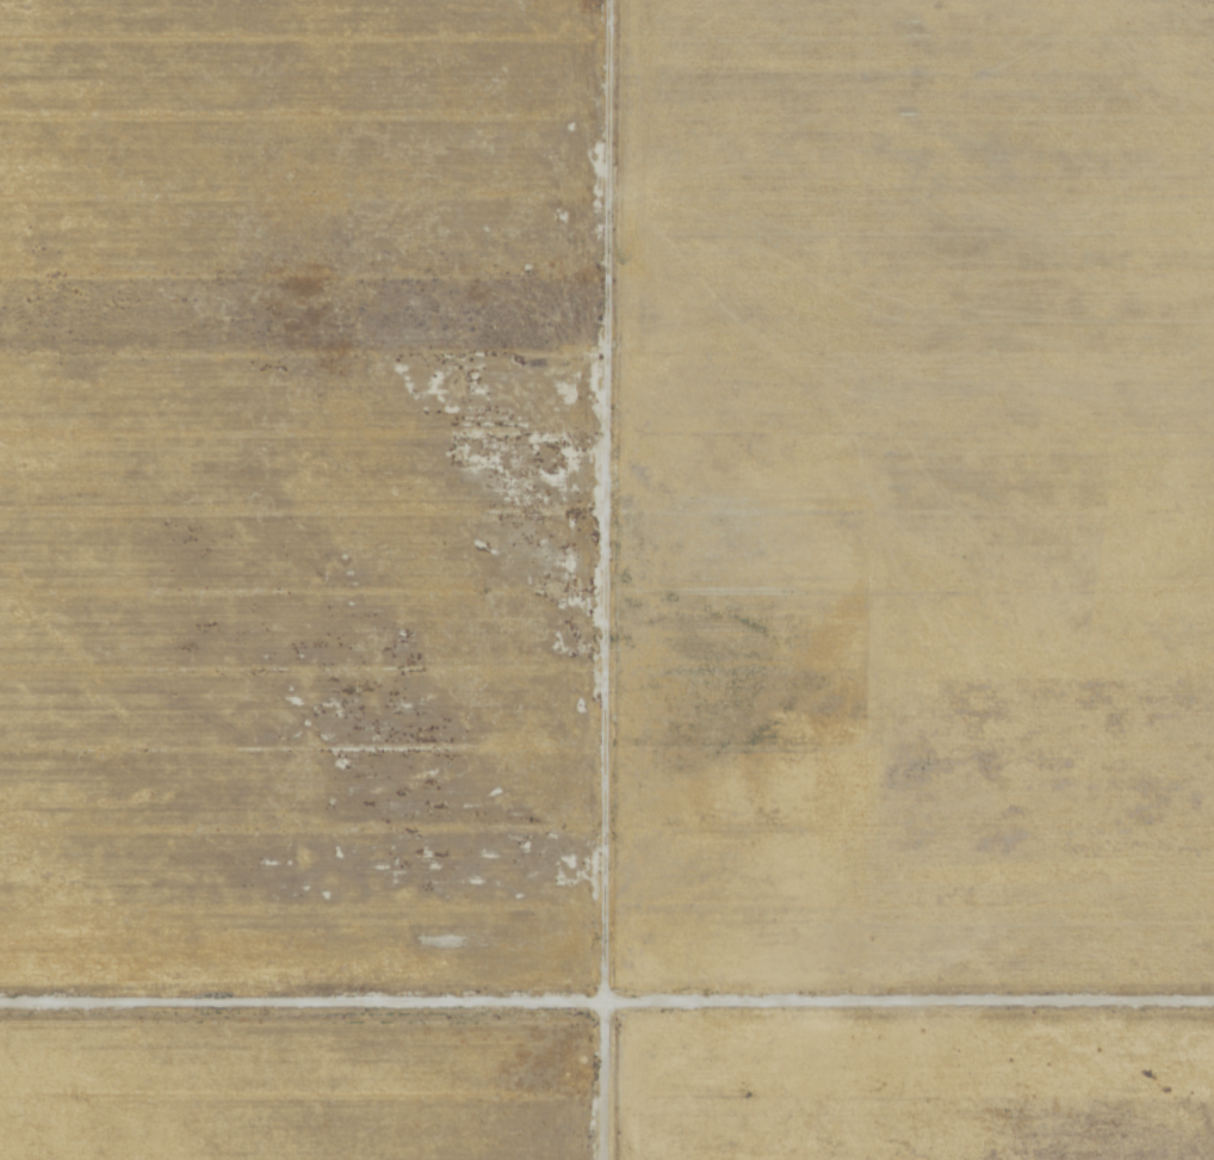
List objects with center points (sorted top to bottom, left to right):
crop: (297, 499)
crop: (911, 499)
road: (607, 1006)
crop: (913, 1087)
crop: (298, 1088)

